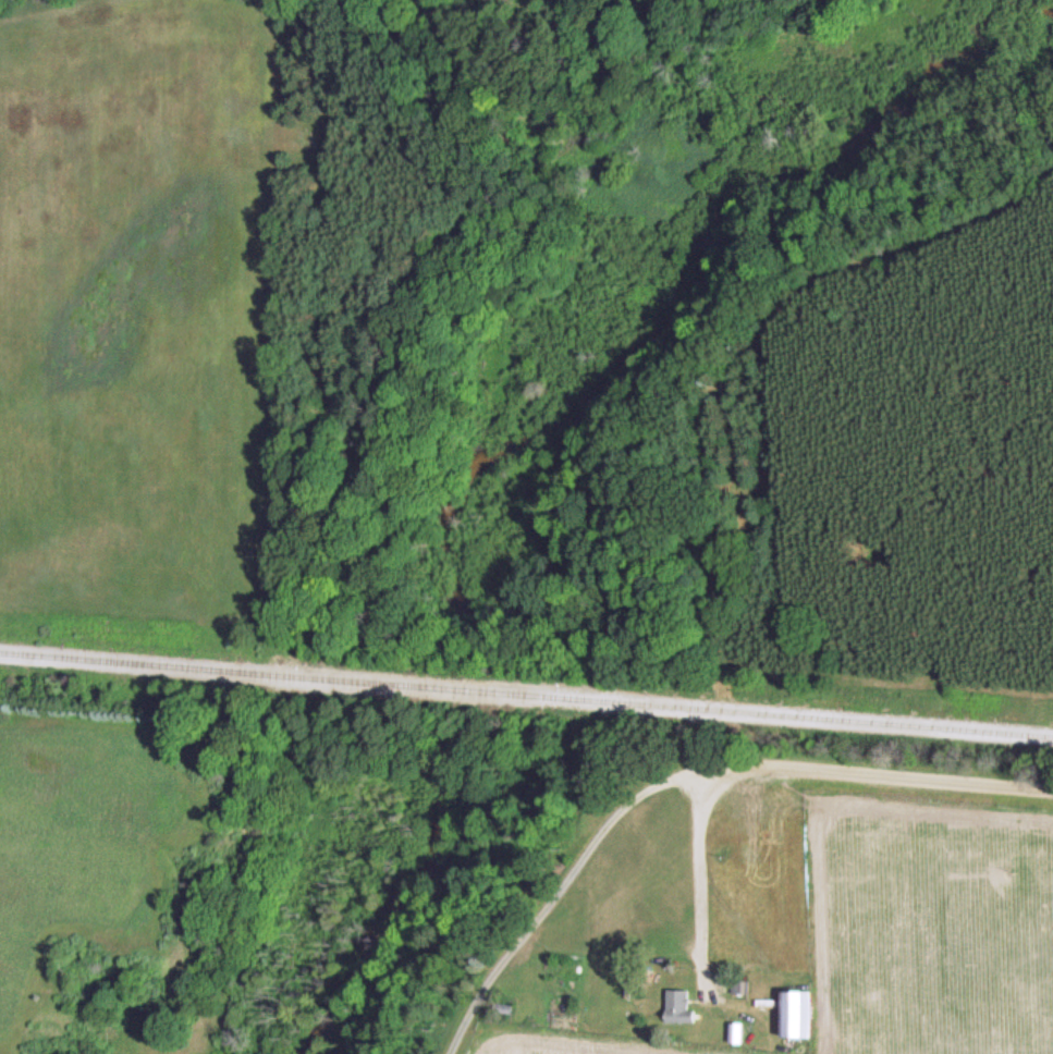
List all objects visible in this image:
railway: (526, 695)
road: (804, 773)
building: (681, 1006)
building: (798, 1013)

